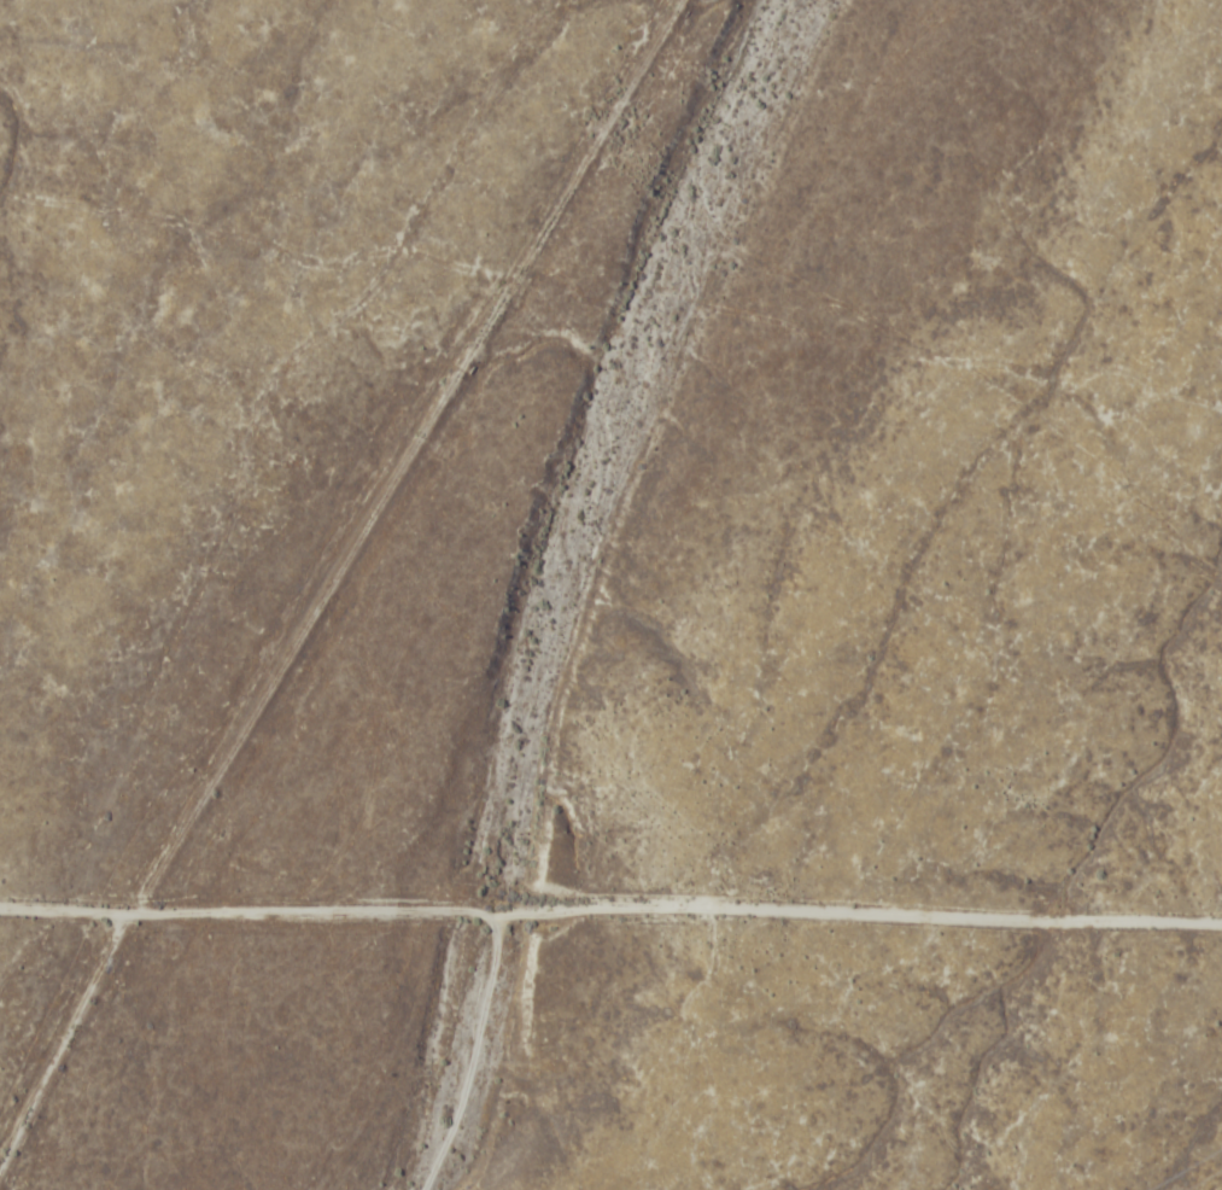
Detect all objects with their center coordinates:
road: (63, 916)
road: (673, 924)
road: (63, 1043)

